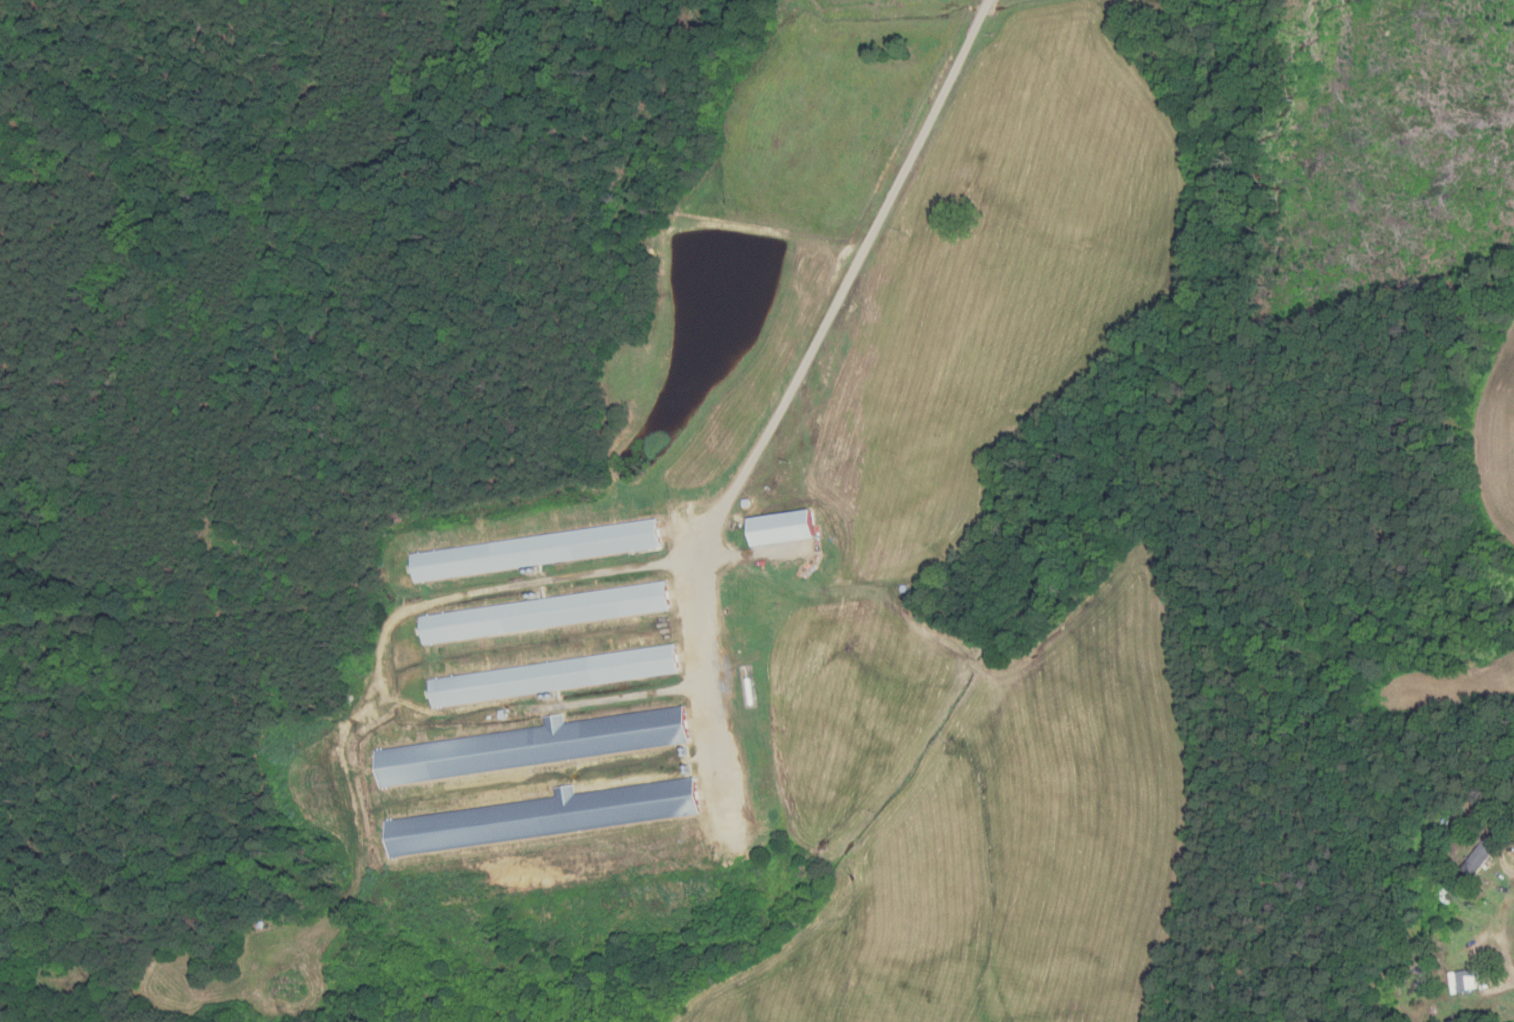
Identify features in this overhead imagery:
road: (793, 385)
crop: (1497, 438)
building: (745, 502)
building: (780, 527)
building: (537, 551)
building: (904, 588)
building: (546, 613)
building: (554, 676)
crop: (1441, 690)
building: (501, 714)
building: (531, 745)
building: (1486, 811)
building: (542, 817)
road: (1499, 856)
building: (1477, 859)
building: (583, 861)
building: (263, 924)
building: (1421, 969)
building: (1462, 981)
road: (1504, 983)
building: (1435, 1010)

